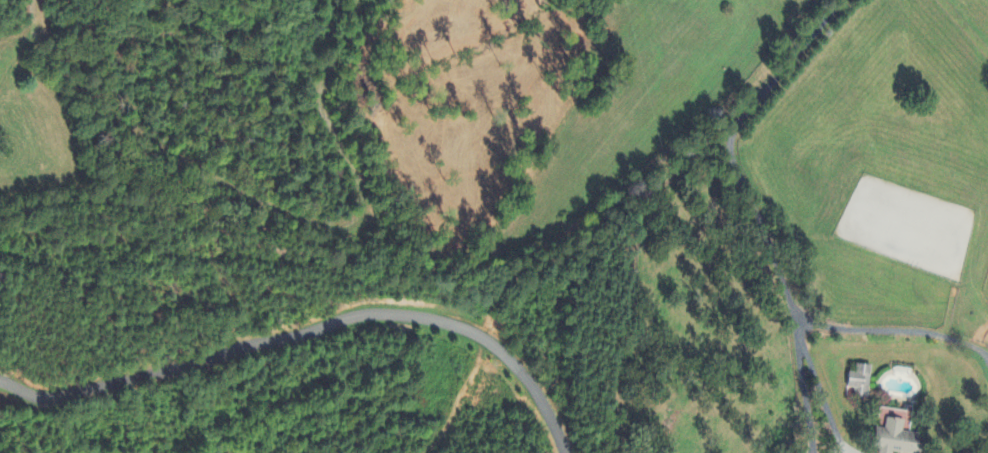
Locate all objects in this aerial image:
road: (757, 212)
road: (895, 329)
road: (309, 334)
building: (861, 382)
road: (807, 398)
building: (900, 439)

